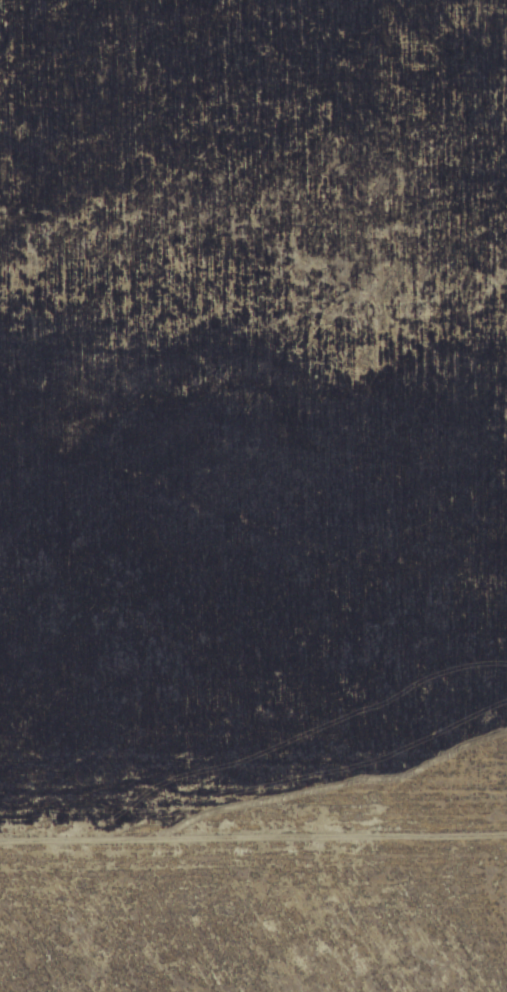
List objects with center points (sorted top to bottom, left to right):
road: (253, 714)

